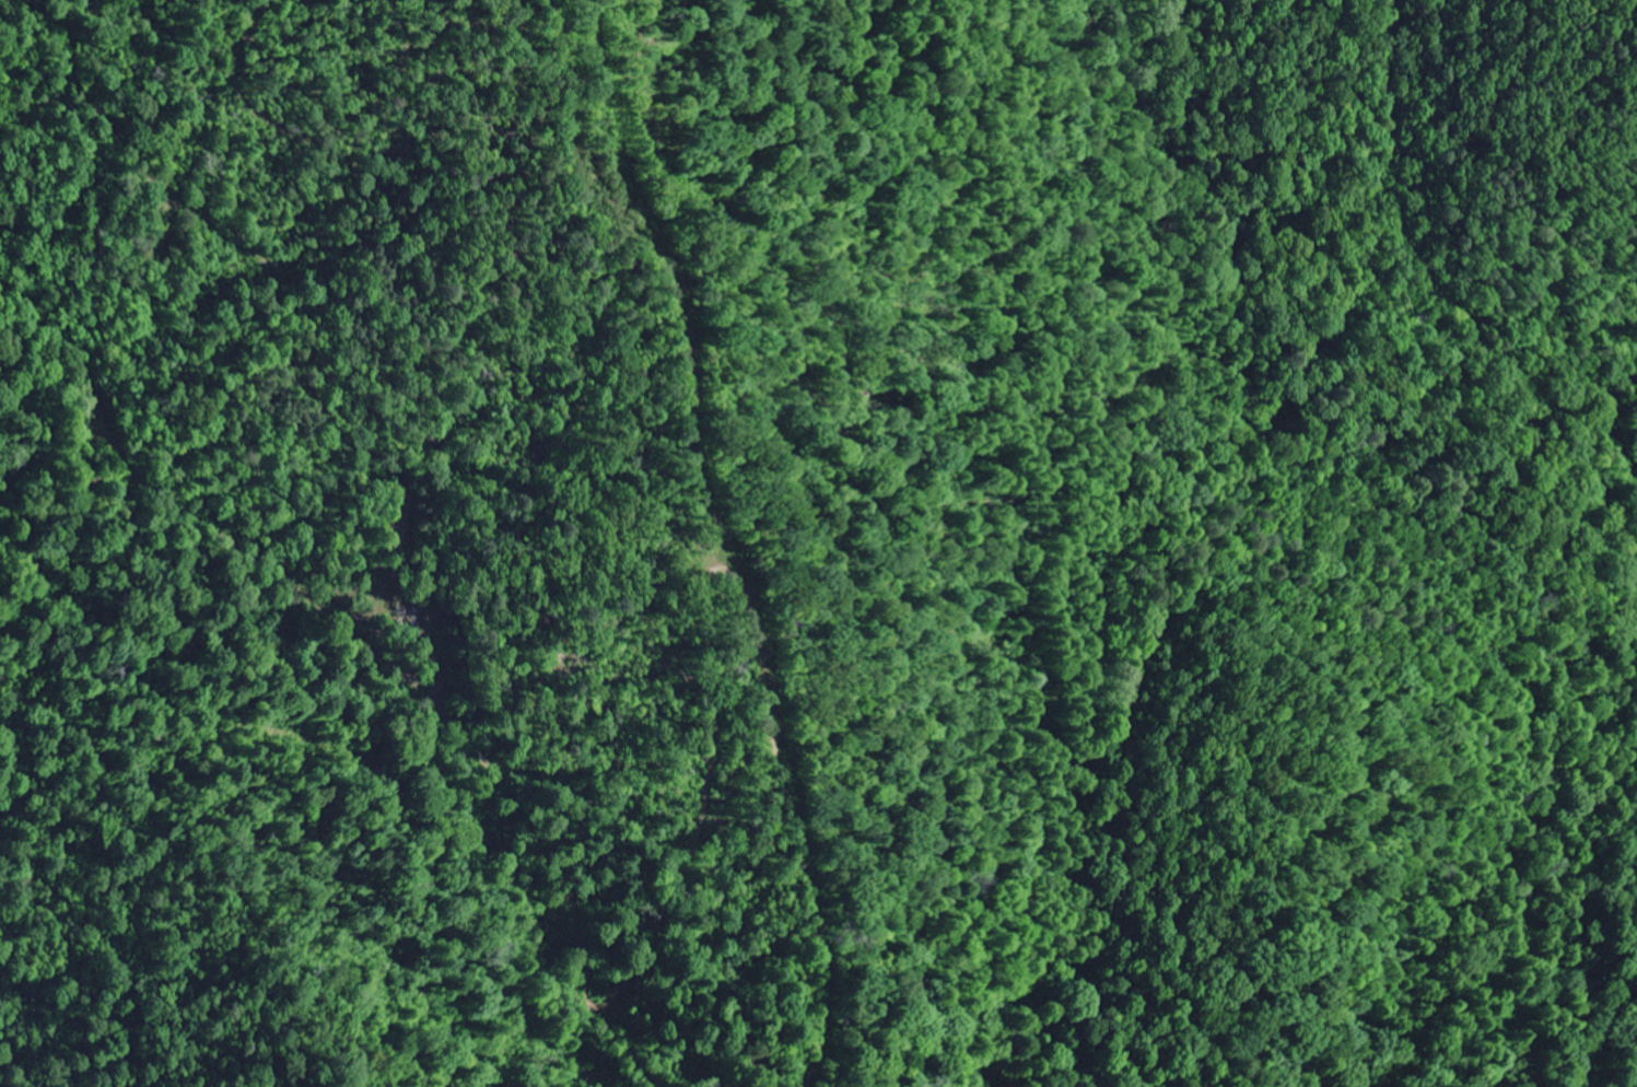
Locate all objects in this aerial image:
building: (416, 635)

